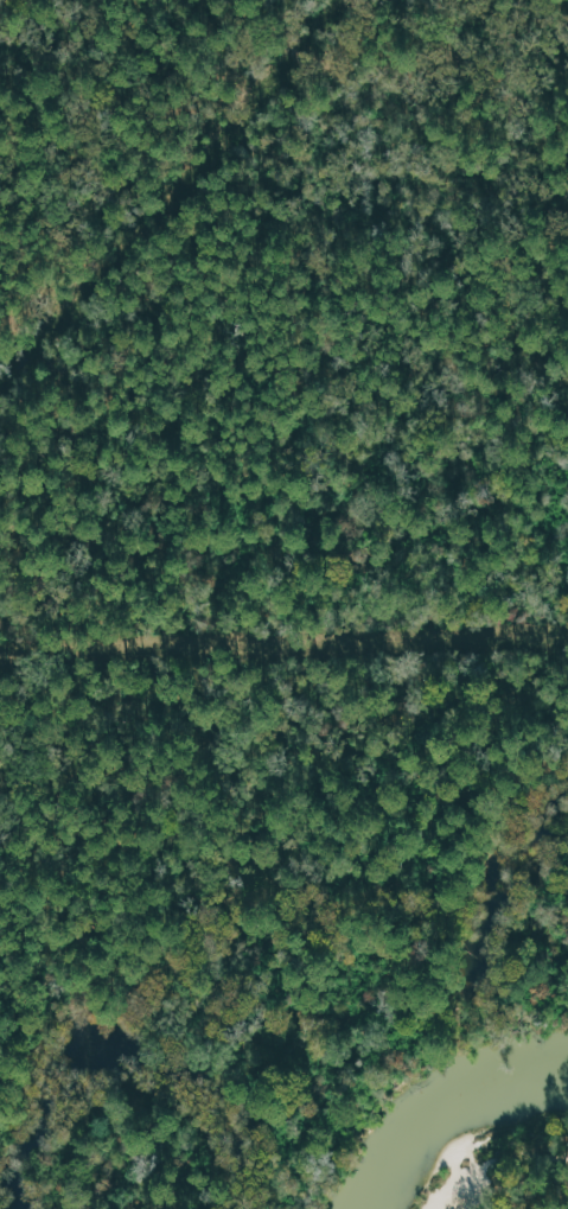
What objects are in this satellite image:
river: (473, 1124)

